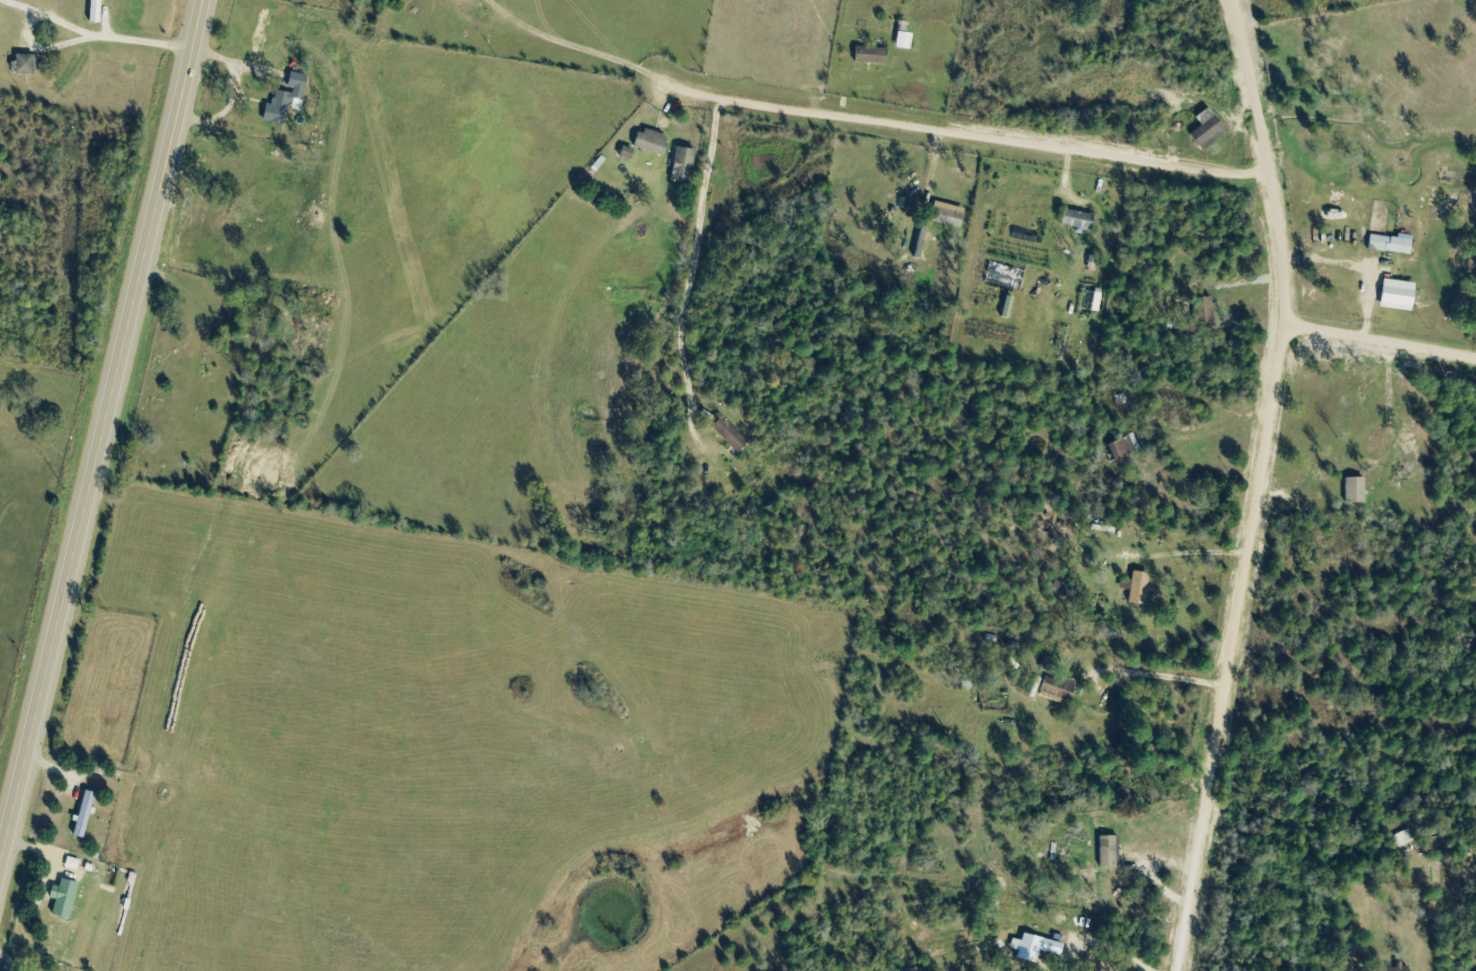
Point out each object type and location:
building: (99, 12)
road: (62, 38)
building: (869, 55)
building: (29, 65)
building: (288, 100)
building: (1206, 129)
road: (956, 130)
building: (677, 154)
building: (945, 215)
building: (1076, 219)
building: (1395, 298)
building: (1203, 311)
road: (1380, 344)
road: (102, 432)
building: (727, 435)
building: (1121, 447)
railway: (232, 485)
road: (1258, 485)
building: (1353, 490)
building: (1136, 587)
road: (1166, 675)
building: (1057, 687)
building: (86, 815)
building: (1107, 851)
building: (68, 899)
building: (1028, 948)
building: (1392, 969)

